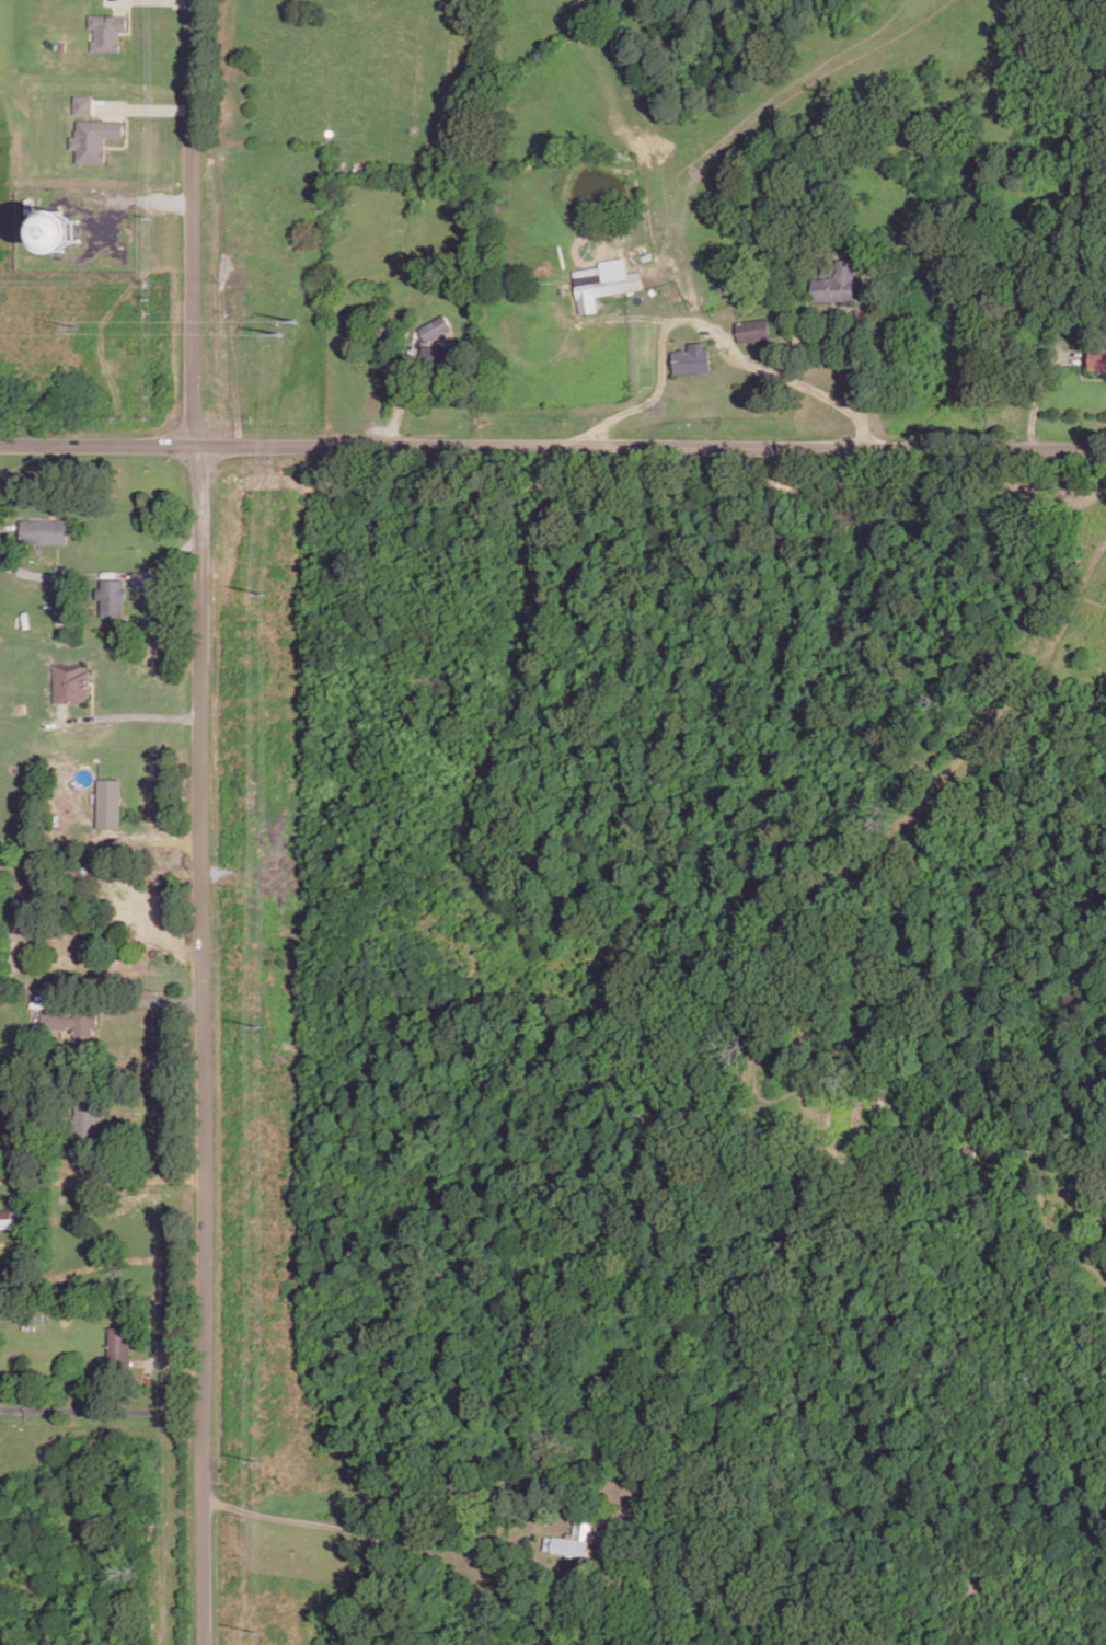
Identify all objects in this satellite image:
road: (129, 19)
building: (107, 28)
building: (62, 44)
building: (82, 105)
road: (143, 107)
road: (126, 136)
building: (93, 137)
road: (136, 202)
water tower: (60, 229)
building: (61, 230)
building: (830, 284)
building: (602, 285)
road: (704, 327)
building: (429, 329)
building: (753, 329)
building: (381, 342)
building: (434, 355)
building: (692, 357)
building: (1098, 357)
road: (1039, 389)
road: (552, 447)
building: (45, 530)
road: (103, 574)
building: (113, 595)
building: (62, 612)
building: (66, 685)
road: (1001, 706)
road: (128, 717)
building: (110, 802)
road: (200, 821)
road: (153, 841)
building: (129, 917)
road: (119, 1002)
building: (69, 1026)
building: (842, 1118)
road: (101, 1181)
building: (9, 1219)
building: (135, 1241)
building: (1, 1249)
building: (88, 1261)
road: (526, 1297)
building: (25, 1319)
building: (114, 1346)
road: (142, 1346)
road: (99, 1412)
road: (350, 1532)
building: (567, 1540)

